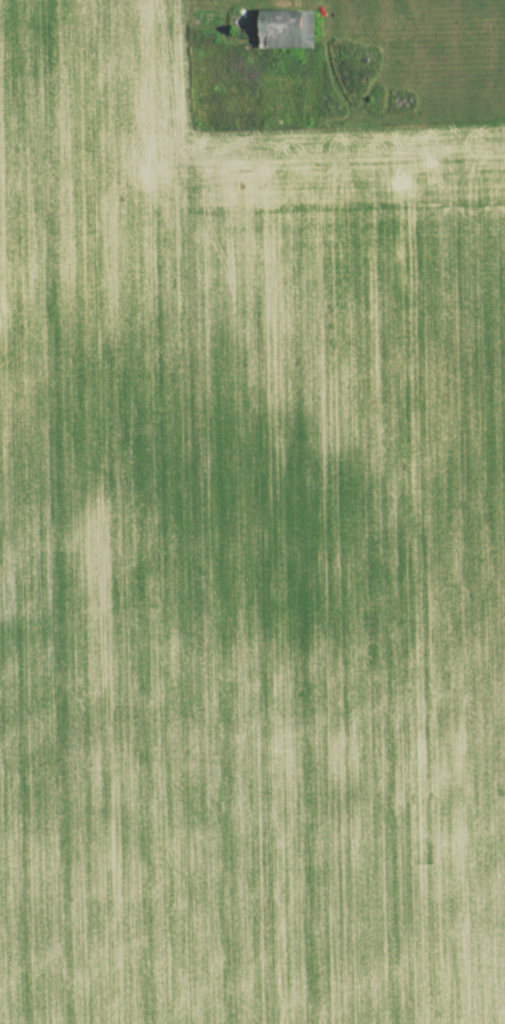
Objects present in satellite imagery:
crop: (244, 553)

